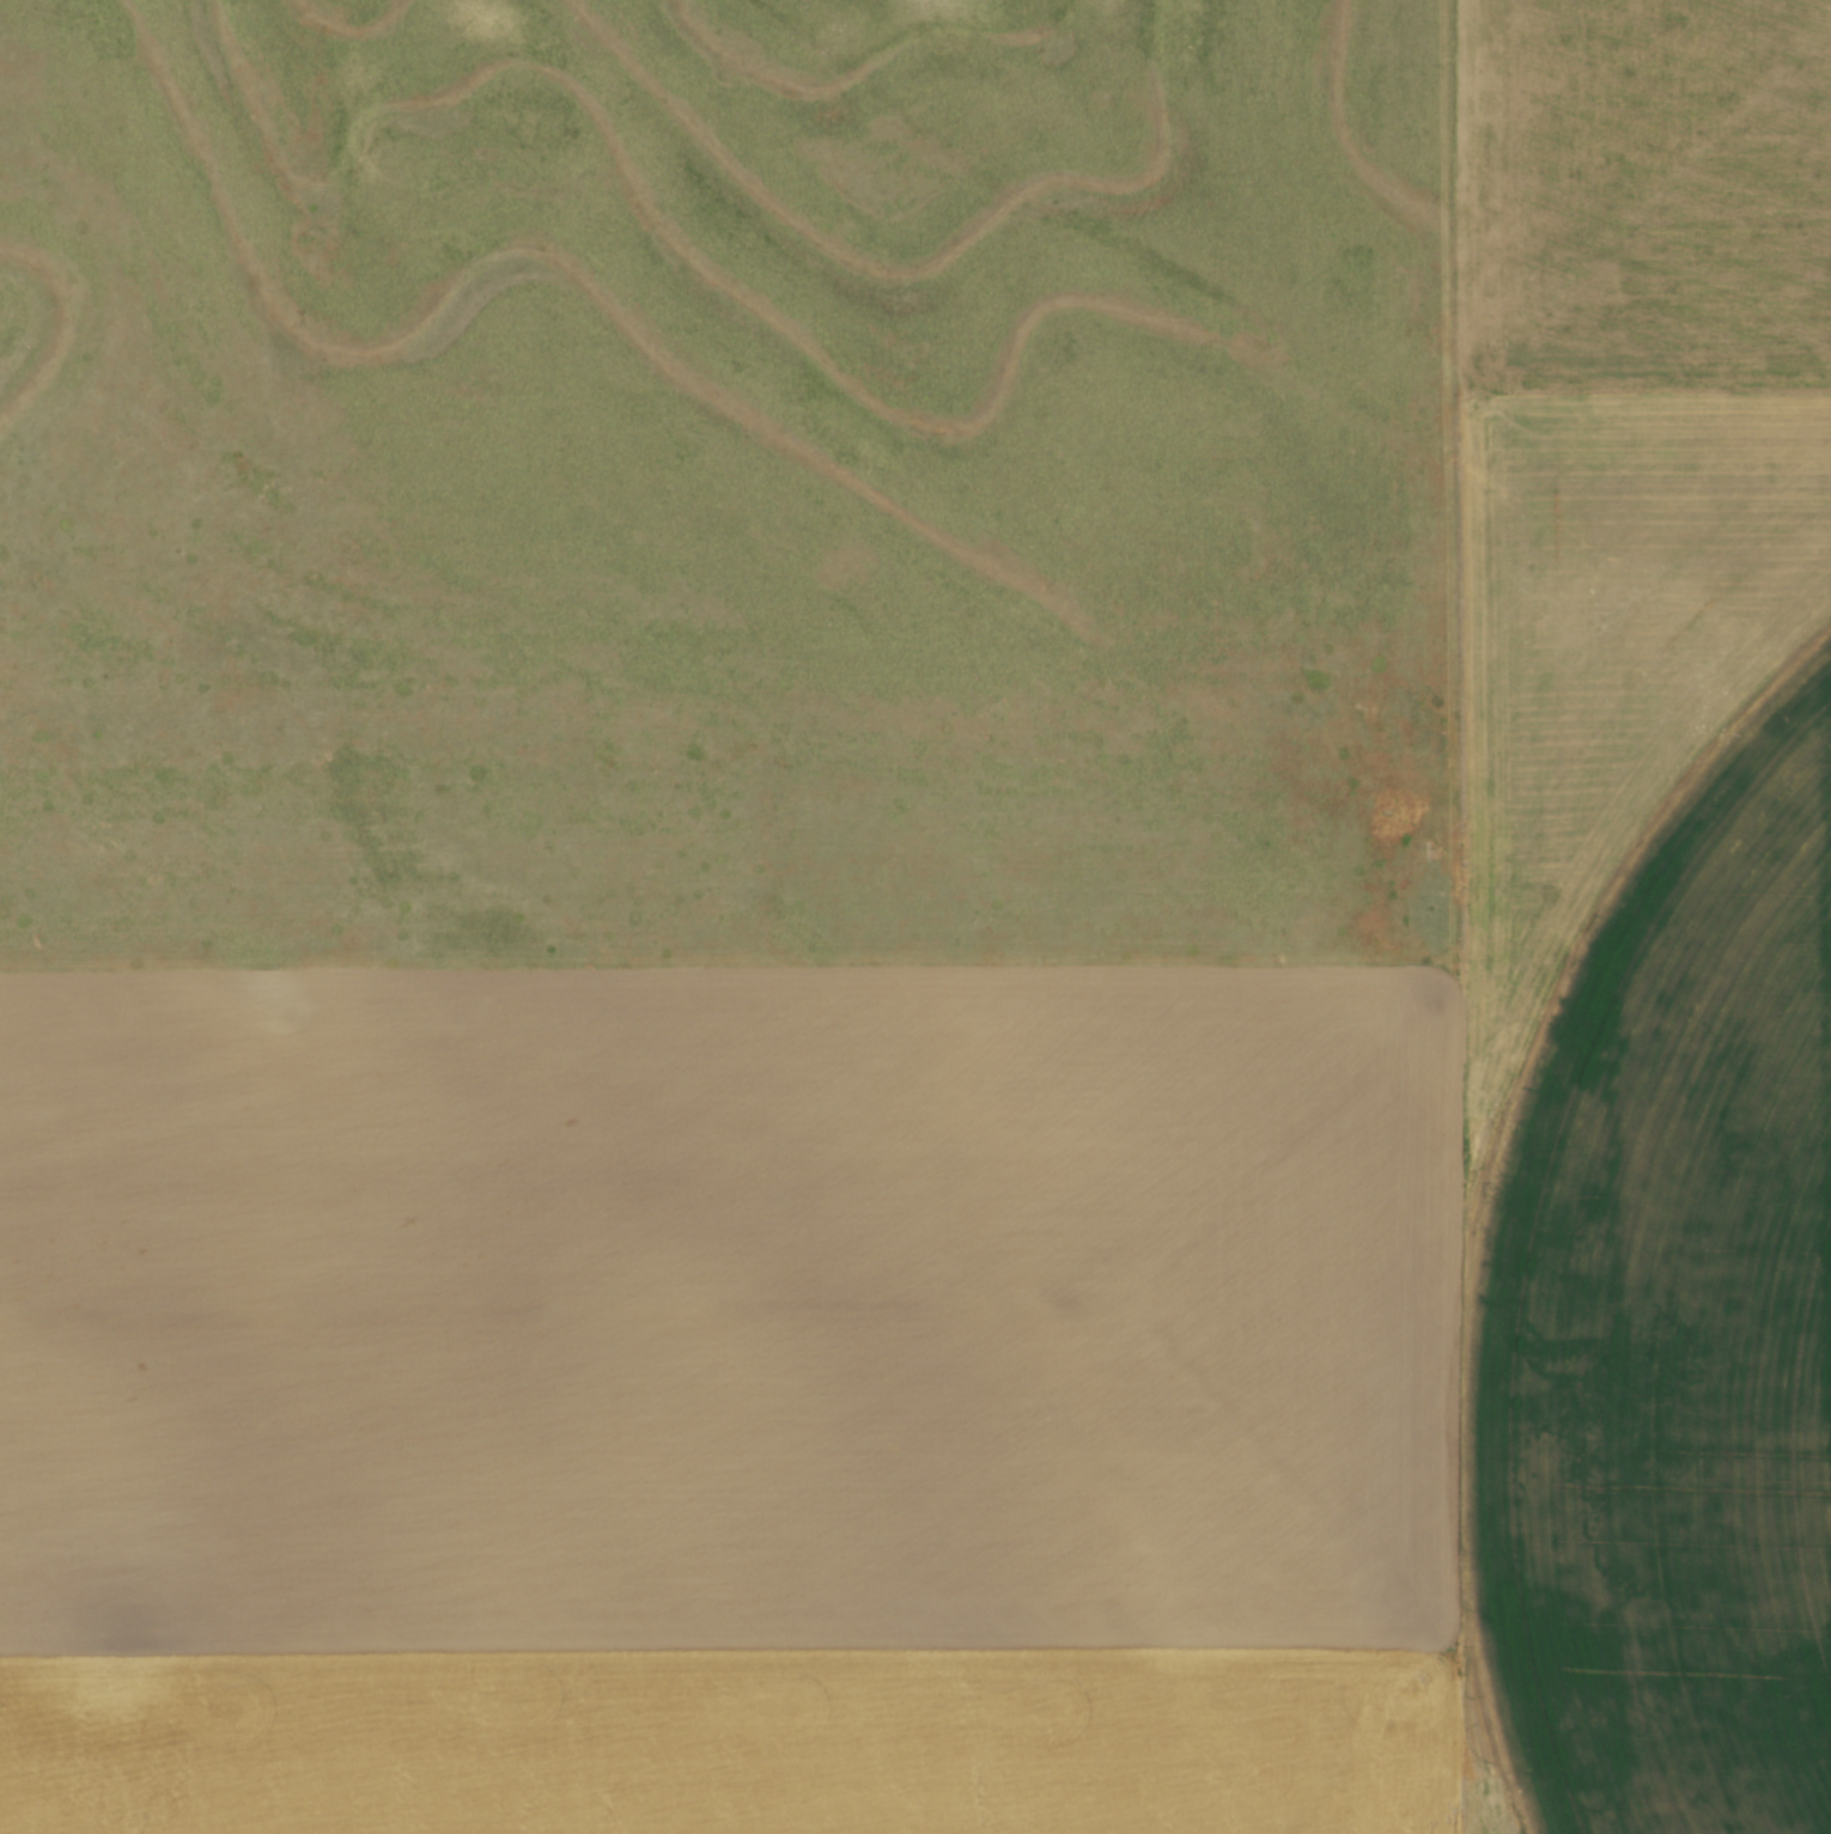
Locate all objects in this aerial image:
crop: (1050, 1229)

